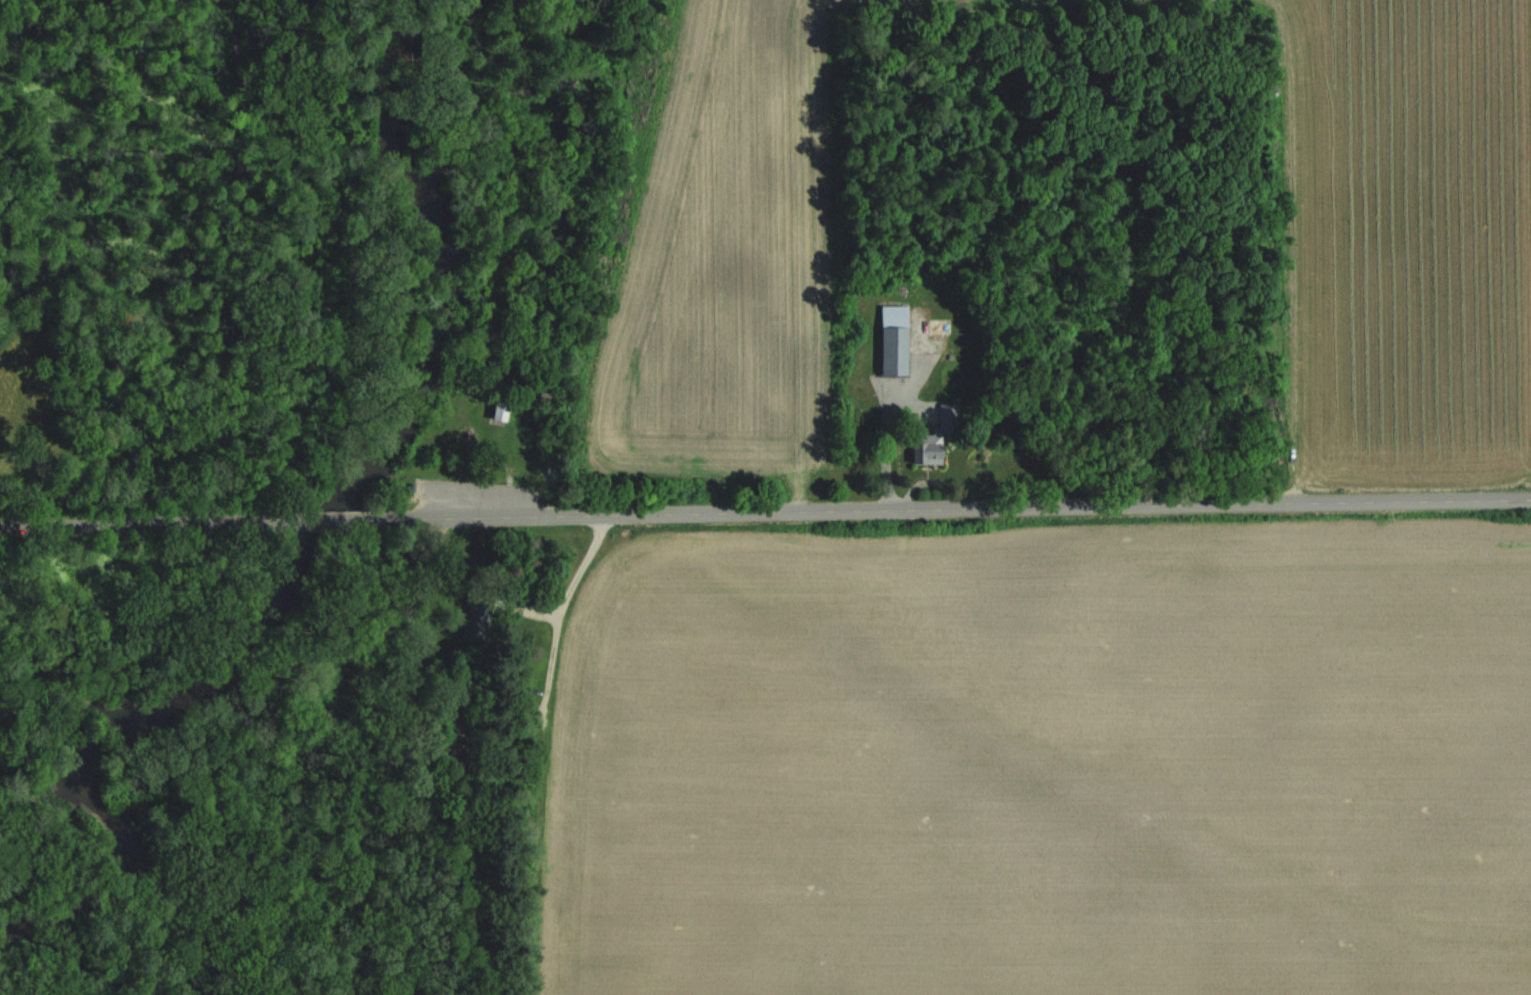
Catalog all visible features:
crop: (1408, 243)
crop: (724, 253)
building: (888, 339)
building: (495, 408)
building: (932, 435)
road: (886, 448)
road: (955, 507)
road: (327, 521)
road: (137, 525)
road: (556, 613)
crop: (1047, 761)

